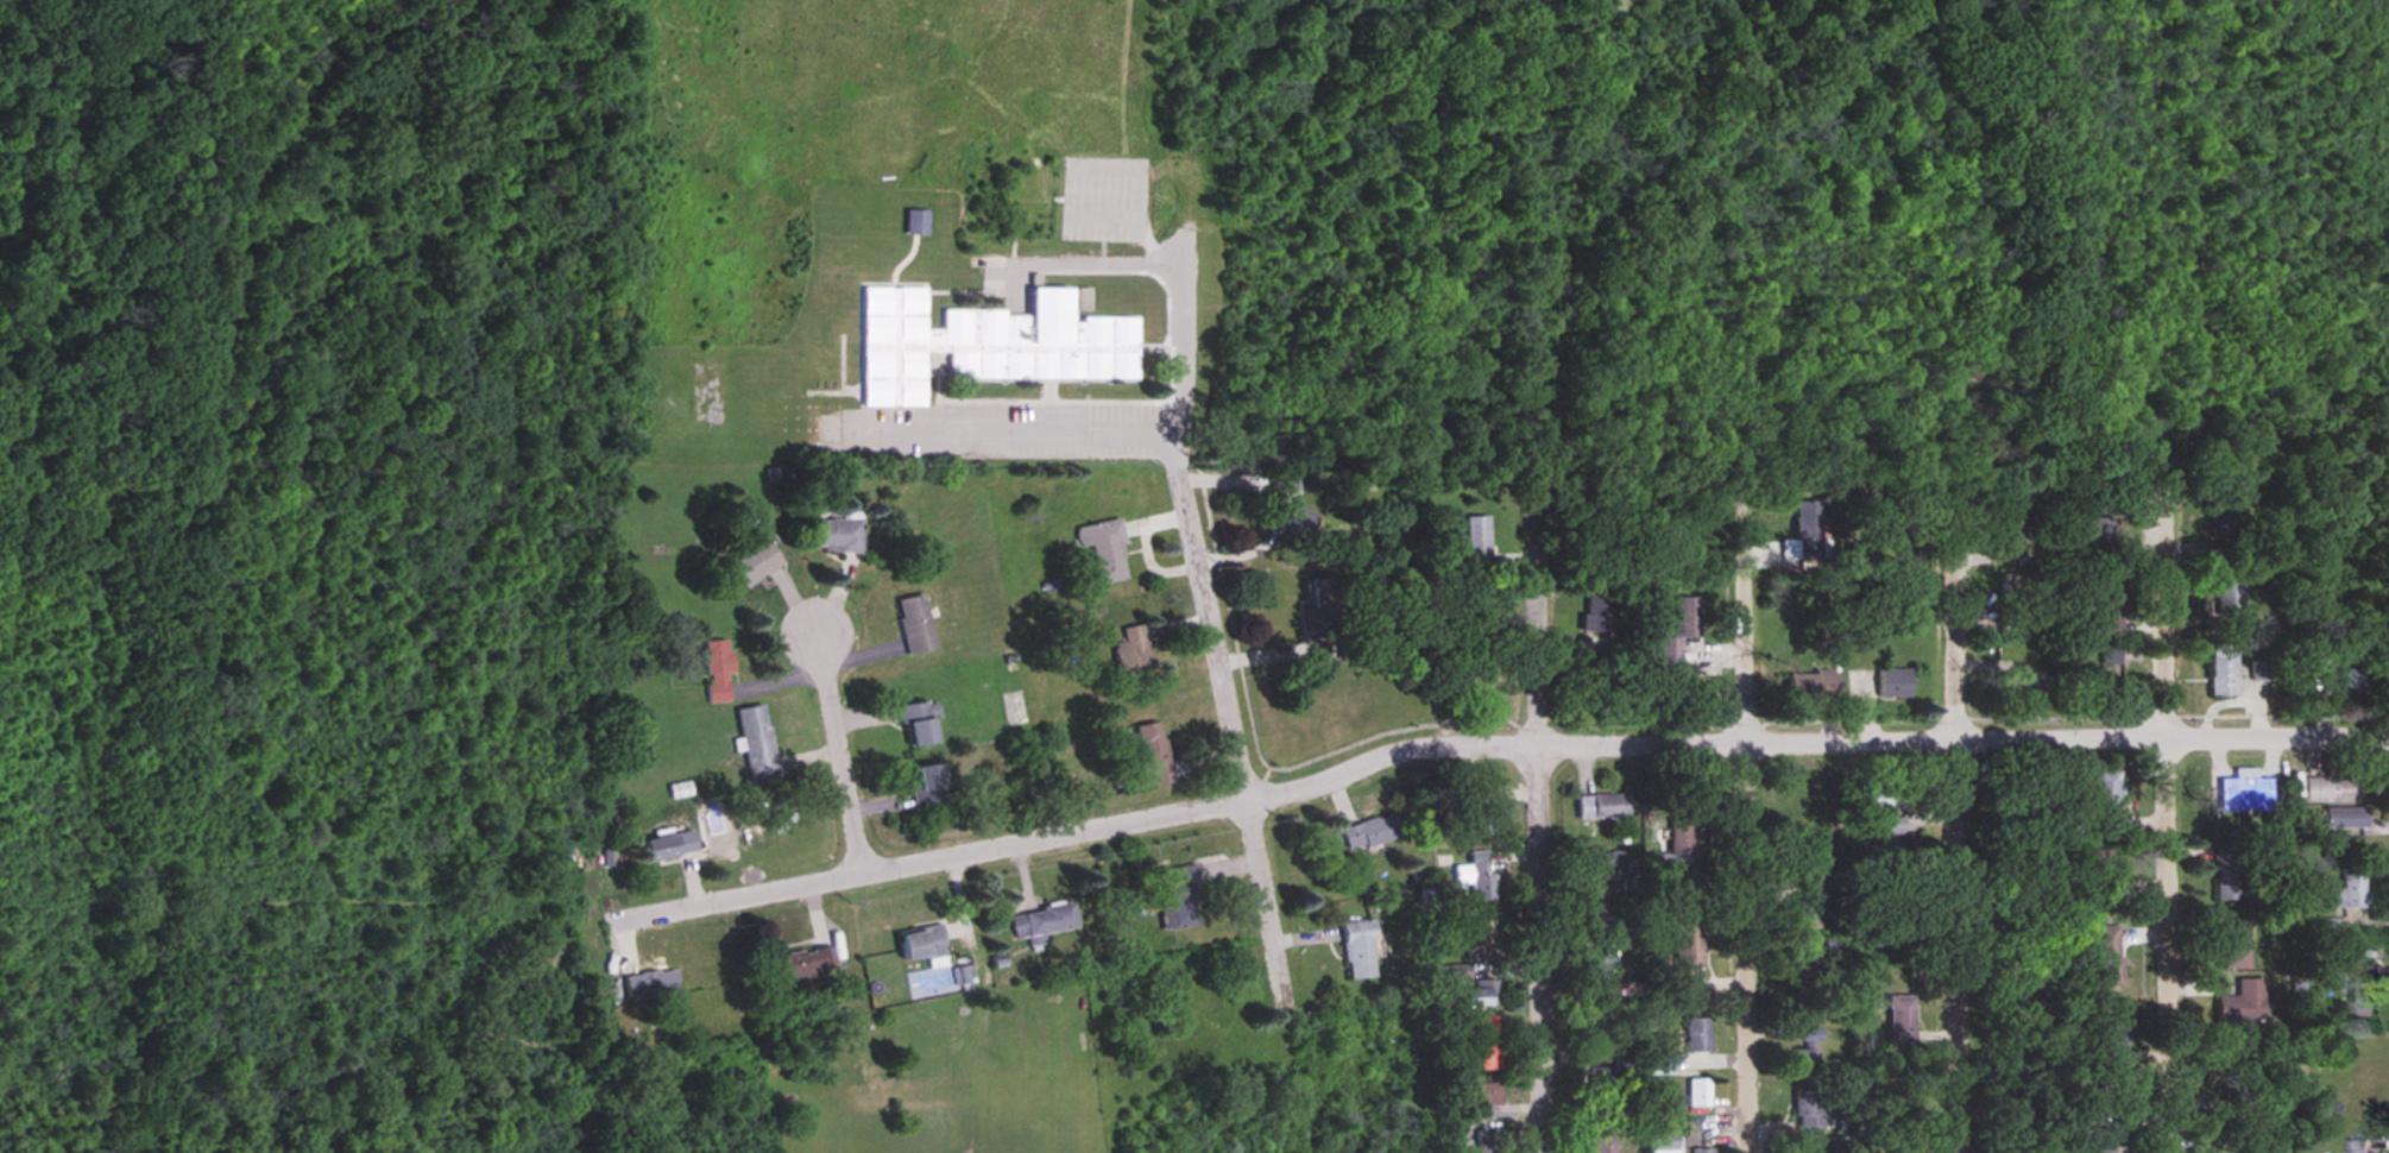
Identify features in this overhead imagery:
road: (1098, 163)
building: (914, 223)
road: (1092, 259)
building: (988, 344)
road: (1107, 435)
building: (2016, 505)
building: (1293, 519)
building: (2223, 522)
building: (837, 535)
building: (2103, 535)
building: (1797, 541)
building: (1474, 542)
building: (1102, 549)
building: (756, 565)
building: (2019, 586)
building: (2229, 599)
building: (2109, 604)
road: (1211, 617)
building: (1587, 623)
building: (913, 624)
building: (2010, 626)
building: (1678, 630)
building: (1129, 651)
building: (2111, 654)
building: (2223, 669)
building: (719, 672)
building: (2261, 672)
building: (2338, 675)
building: (1892, 683)
building: (2025, 683)
building: (2094, 683)
building: (1811, 685)
building: (1477, 695)
building: (915, 722)
building: (758, 743)
road: (1487, 746)
road: (839, 751)
building: (1149, 752)
building: (925, 785)
building: (2331, 789)
building: (2252, 793)
building: (1885, 798)
building: (2107, 800)
building: (1600, 806)
road: (1963, 809)
road: (1754, 812)
road: (2174, 812)
road: (1538, 813)
building: (1477, 814)
building: (2345, 817)
building: (1895, 826)
building: (1368, 831)
building: (1681, 836)
building: (672, 846)
building: (1595, 865)
building: (2097, 870)
building: (2229, 872)
building: (1475, 875)
building: (2349, 889)
building: (1174, 900)
building: (1808, 908)
road: (1268, 913)
building: (1597, 921)
building: (1040, 924)
building: (1481, 939)
building: (921, 946)
building: (2233, 947)
building: (1356, 949)
building: (1687, 954)
building: (1807, 957)
building: (2109, 957)
building: (802, 964)
building: (1595, 968)
building: (648, 984)
building: (1473, 988)
building: (1632, 989)
building: (2362, 1000)
building: (2028, 1001)
building: (2242, 1003)
building: (1901, 1019)
building: (2111, 1031)
building: (1696, 1034)
building: (1485, 1042)
building: (1808, 1052)
building: (1658, 1063)
building: (2234, 1078)
building: (1599, 1083)
building: (1697, 1092)
building: (1483, 1094)
building: (1810, 1116)
building: (1486, 1141)
building: (1660, 1141)
building: (1596, 1143)
building: (2357, 1147)
building: (2110, 1149)
building: (1701, 1151)

